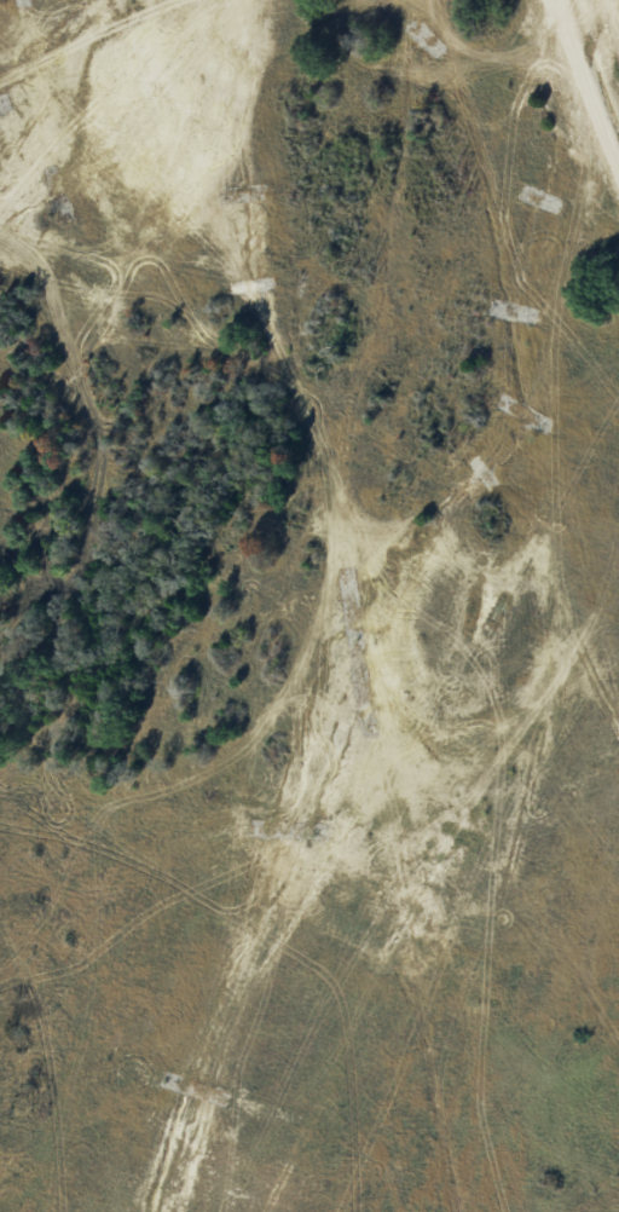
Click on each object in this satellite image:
road: (589, 77)

